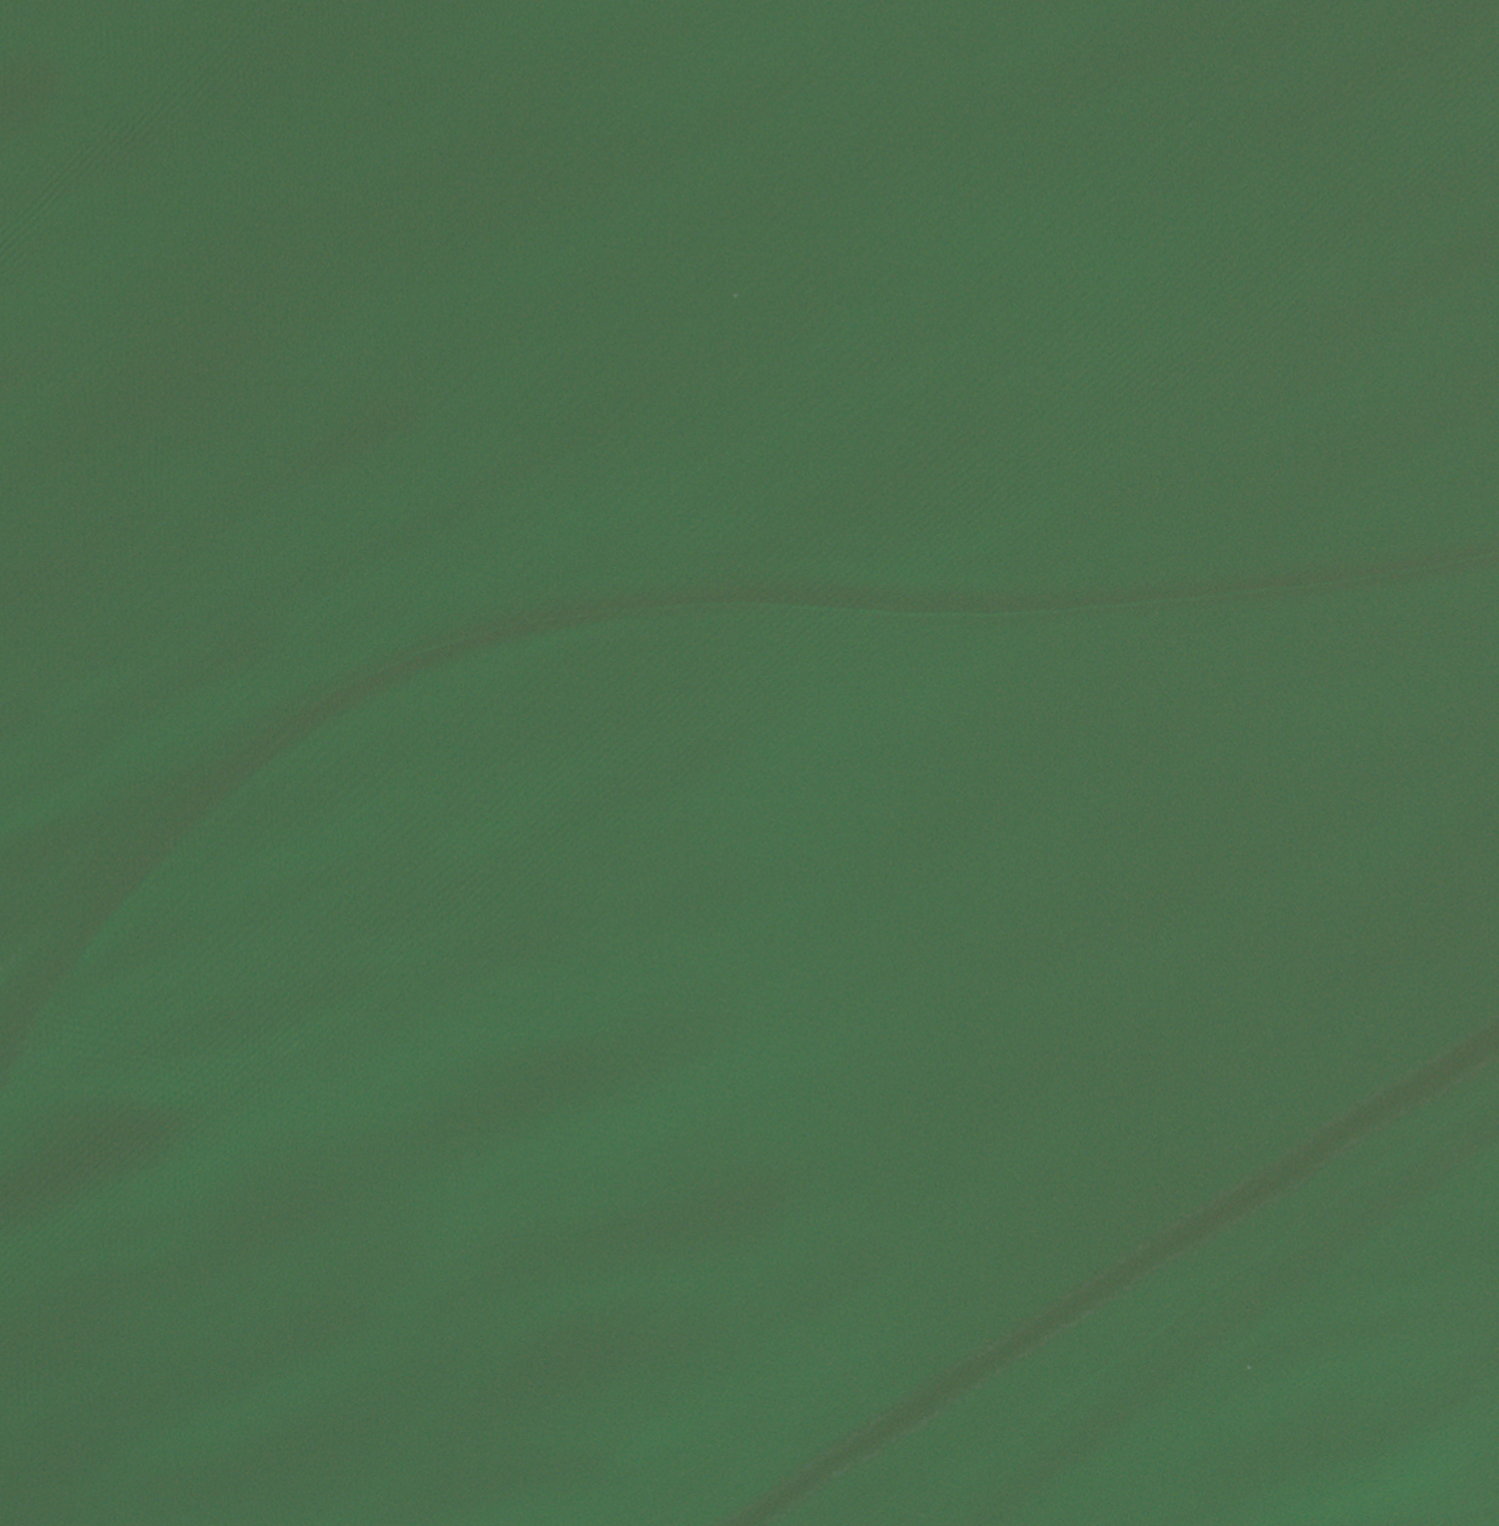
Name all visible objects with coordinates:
river: (1449, 1493)

